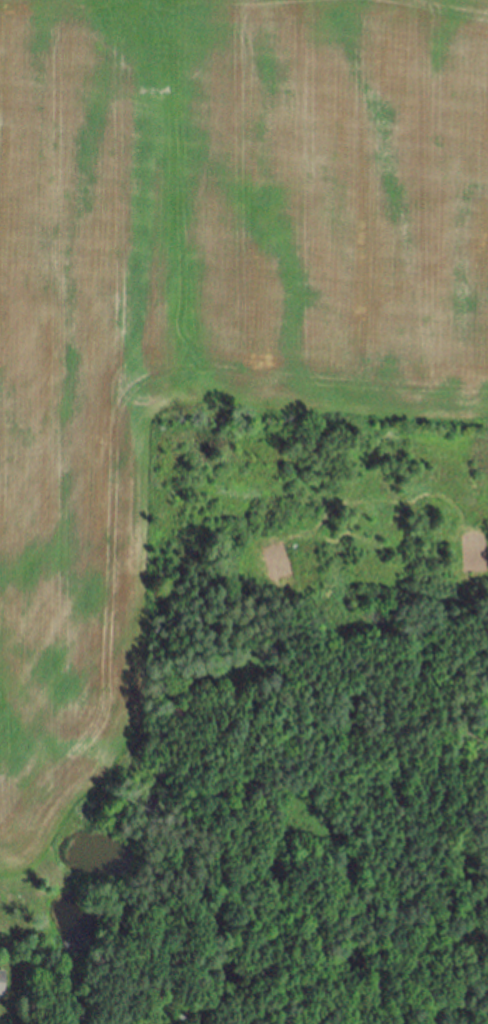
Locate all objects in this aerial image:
building: (2, 981)

